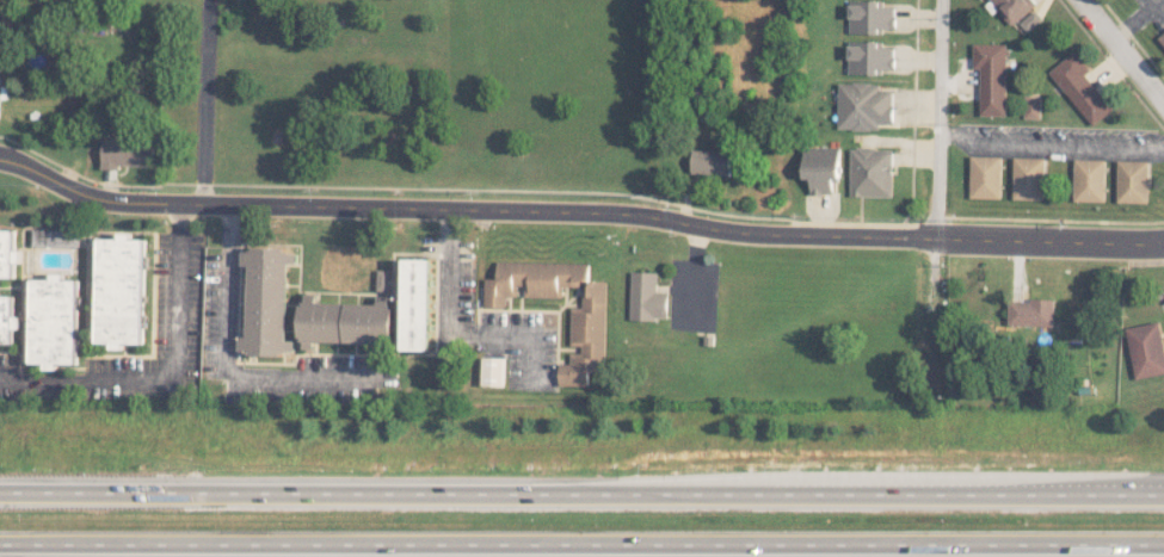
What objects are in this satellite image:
building: (1012, 8)
building: (869, 17)
building: (1030, 20)
building: (1162, 38)
road: (1121, 51)
building: (869, 57)
building: (991, 76)
building: (0, 83)
building: (1080, 87)
road: (205, 101)
building: (863, 105)
building: (1031, 106)
road: (938, 119)
building: (127, 151)
building: (710, 161)
building: (821, 167)
building: (870, 172)
building: (985, 177)
building: (1028, 178)
building: (1089, 179)
building: (1132, 181)
road: (577, 211)
building: (55, 236)
road: (1162, 241)
building: (6, 253)
building: (383, 279)
building: (532, 279)
building: (119, 290)
building: (646, 296)
building: (267, 301)
building: (418, 304)
road: (451, 310)
building: (1031, 311)
building: (7, 318)
building: (53, 321)
building: (345, 321)
building: (586, 336)
building: (1146, 348)
road: (227, 357)
road: (165, 367)
building: (492, 371)
road: (581, 494)
road: (581, 543)

